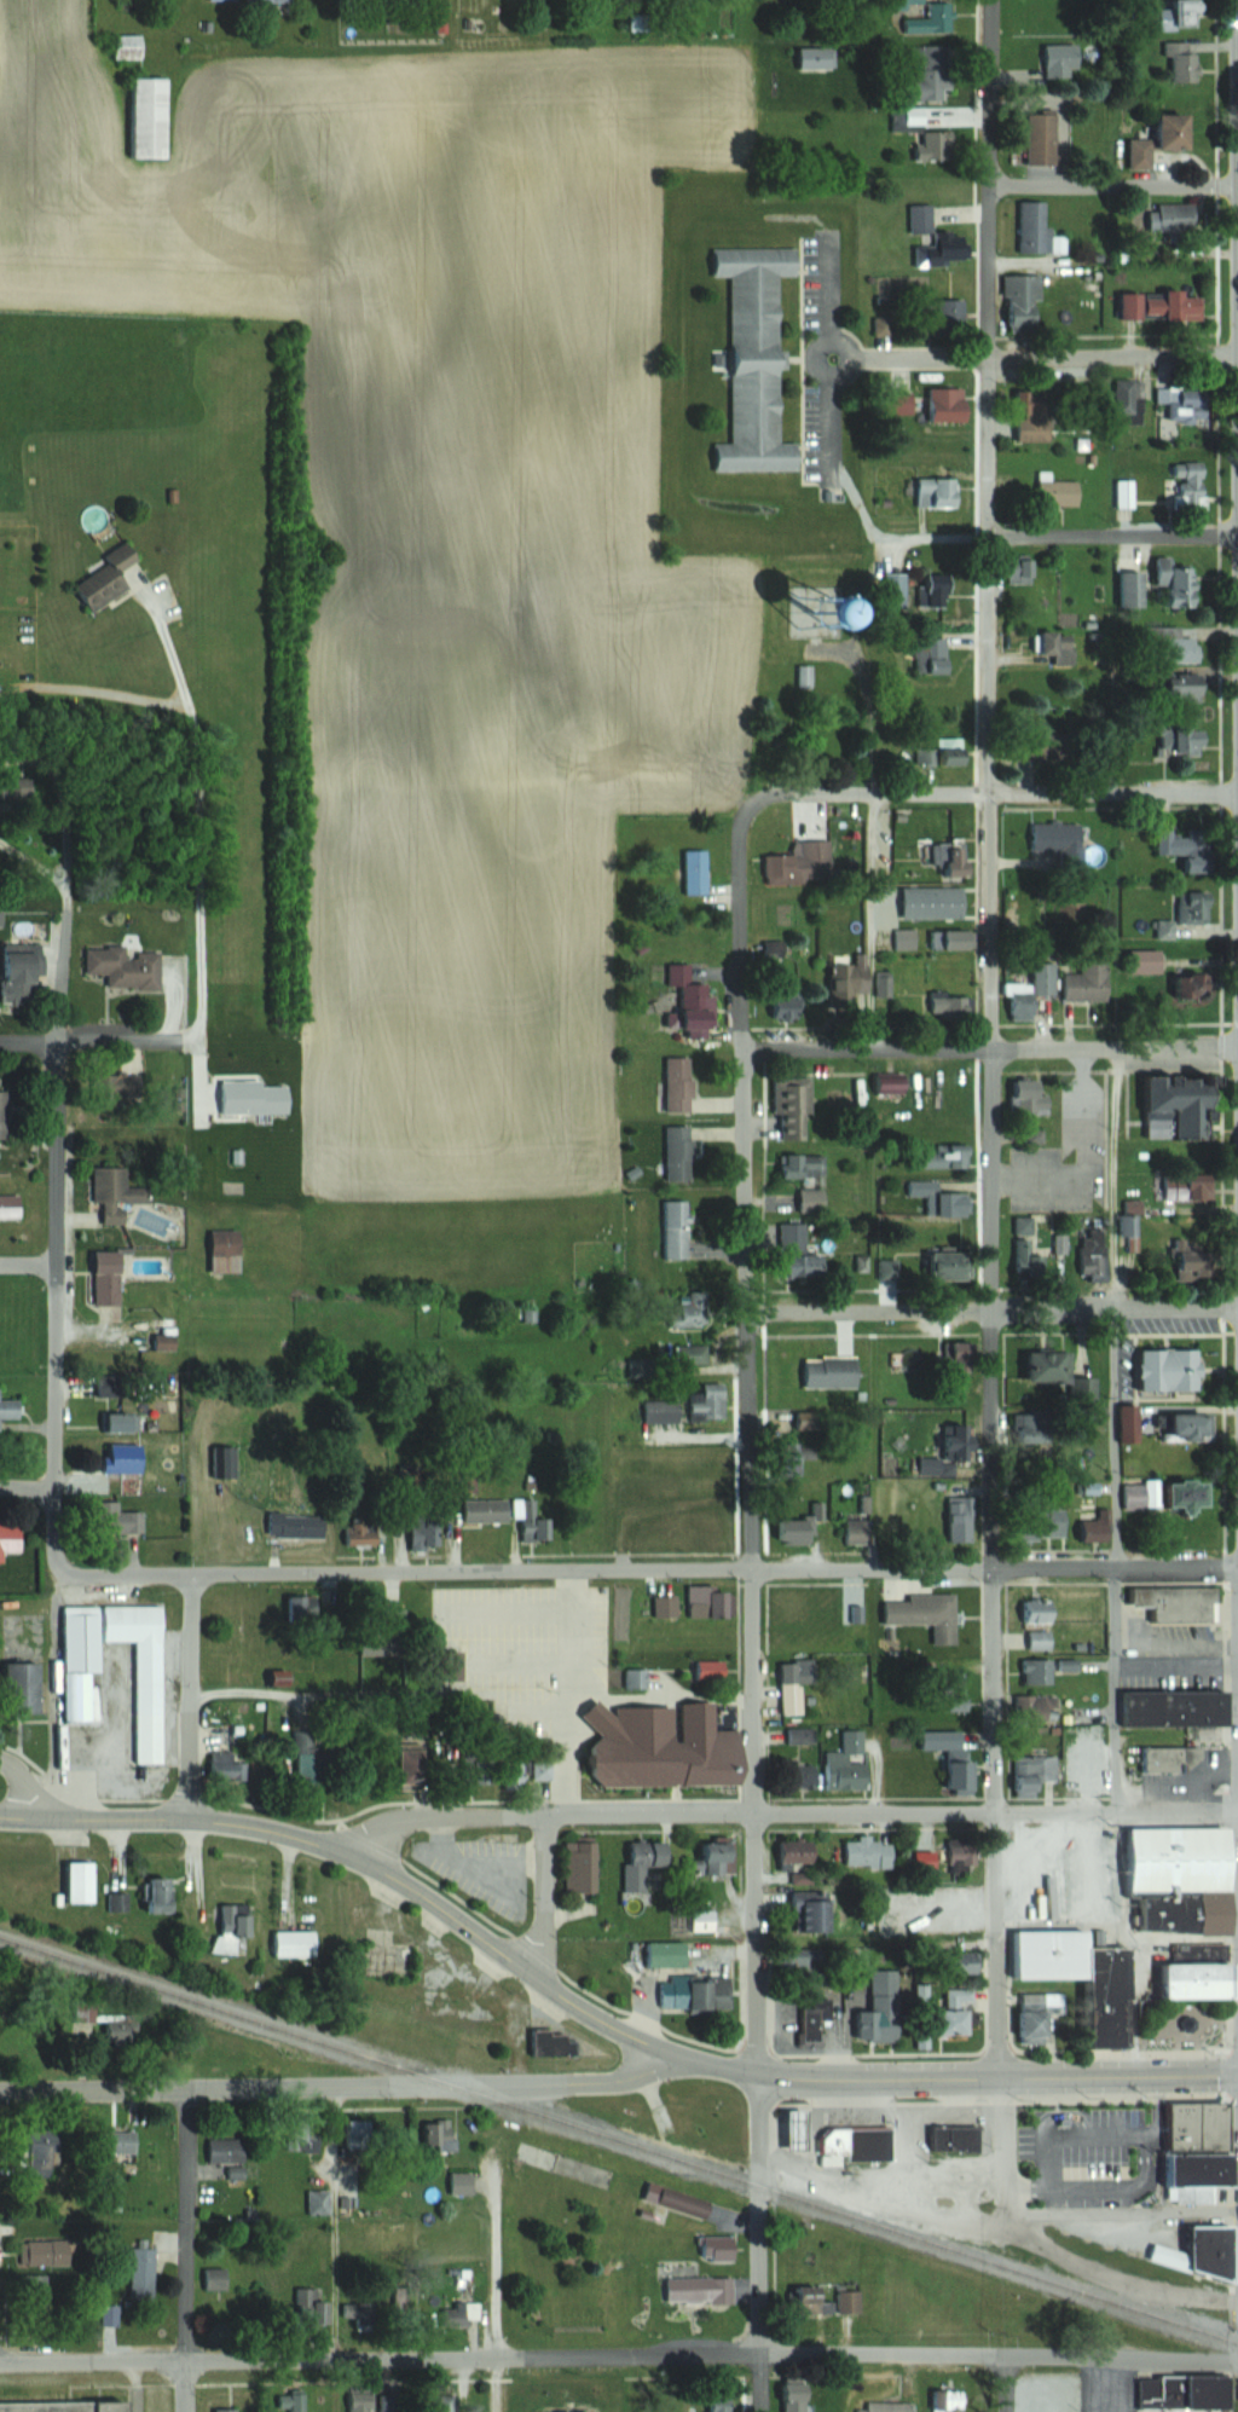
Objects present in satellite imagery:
building: (272, 0)
building: (1193, 13)
building: (935, 19)
building: (131, 46)
building: (1063, 60)
building: (1184, 63)
building: (932, 71)
building: (152, 117)
building: (1045, 137)
building: (1165, 140)
building: (937, 145)
road: (1113, 186)
building: (922, 219)
building: (1179, 219)
building: (1035, 226)
building: (943, 251)
road: (822, 300)
building: (1025, 300)
building: (1165, 307)
building: (953, 314)
building: (758, 358)
road: (844, 358)
road: (1113, 358)
road: (925, 359)
building: (1128, 398)
building: (1188, 403)
building: (951, 405)
road: (825, 415)
building: (1040, 417)
building: (1192, 485)
building: (941, 492)
road: (1113, 536)
building: (110, 578)
building: (1179, 584)
building: (1134, 589)
building: (1061, 647)
building: (1184, 649)
building: (808, 676)
building: (1192, 688)
building: (1186, 740)
road: (988, 793)
road: (190, 816)
road: (64, 835)
building: (1054, 843)
building: (944, 858)
building: (804, 863)
building: (698, 872)
building: (1188, 907)
building: (1138, 960)
building: (127, 967)
building: (27, 968)
building: (1082, 982)
building: (1184, 985)
building: (1023, 993)
building: (692, 997)
road: (162, 999)
building: (944, 1005)
road: (993, 1037)
road: (81, 1040)
road: (990, 1051)
building: (682, 1083)
building: (1022, 1097)
building: (5, 1109)
building: (682, 1153)
building: (937, 1157)
building: (809, 1179)
road: (1113, 1179)
building: (1184, 1185)
road: (58, 1186)
building: (10, 1195)
building: (118, 1195)
building: (935, 1198)
building: (677, 1227)
building: (228, 1250)
building: (1088, 1254)
building: (811, 1263)
building: (935, 1263)
road: (29, 1268)
building: (106, 1277)
building: (694, 1308)
road: (993, 1309)
building: (526, 1317)
building: (1158, 1369)
building: (833, 1370)
building: (689, 1406)
building: (11, 1407)
building: (115, 1421)
building: (1121, 1424)
building: (1170, 1427)
road: (1113, 1440)
road: (752, 1447)
road: (28, 1488)
building: (1157, 1496)
building: (492, 1510)
building: (962, 1522)
building: (300, 1526)
building: (799, 1529)
building: (700, 1531)
building: (1083, 1531)
building: (857, 1532)
building: (363, 1534)
building: (11, 1539)
road: (607, 1574)
building: (708, 1602)
building: (799, 1607)
building: (1040, 1612)
building: (926, 1614)
road: (569, 1633)
building: (1042, 1641)
road: (1176, 1667)
building: (1039, 1672)
building: (151, 1679)
building: (798, 1684)
building: (27, 1687)
road: (1115, 1689)
road: (438, 1690)
road: (192, 1699)
building: (1040, 1707)
building: (954, 1756)
building: (849, 1762)
building: (227, 1766)
building: (1036, 1772)
road: (29, 1783)
road: (786, 1814)
building: (799, 1850)
building: (872, 1852)
building: (718, 1857)
road: (480, 1858)
building: (966, 1858)
building: (648, 1863)
building: (577, 1866)
road: (191, 1867)
building: (85, 1881)
road: (400, 1884)
building: (950, 1892)
building: (162, 1895)
road: (543, 1898)
building: (814, 1910)
building: (235, 1924)
road: (1115, 1926)
building: (297, 1942)
building: (669, 1954)
building: (386, 1955)
building: (971, 1962)
building: (1036, 1965)
building: (685, 1992)
building: (962, 2009)
building: (883, 2011)
building: (1042, 2017)
building: (122, 2031)
road: (1000, 2076)
road: (341, 2086)
building: (360, 2135)
building: (442, 2135)
railway: (619, 2139)
building: (953, 2139)
building: (123, 2142)
building: (874, 2145)
building: (1204, 2146)
building: (225, 2151)
building: (47, 2153)
road: (933, 2183)
building: (319, 2203)
road: (1133, 2215)
road: (336, 2223)
road: (762, 2245)
road: (189, 2250)
building: (47, 2252)
road: (497, 2266)
building: (144, 2272)
road: (1103, 2274)
building: (218, 2278)
building: (36, 2284)
building: (700, 2290)
building: (832, 2300)
building: (313, 2307)
building: (359, 2318)
road: (619, 2358)
road: (1008, 2385)
road: (1111, 2385)
building: (799, 2396)
building: (363, 2402)
building: (68, 2406)
building: (722, 2407)
building: (887, 2407)
building: (232, 2410)
building: (598, 2411)

